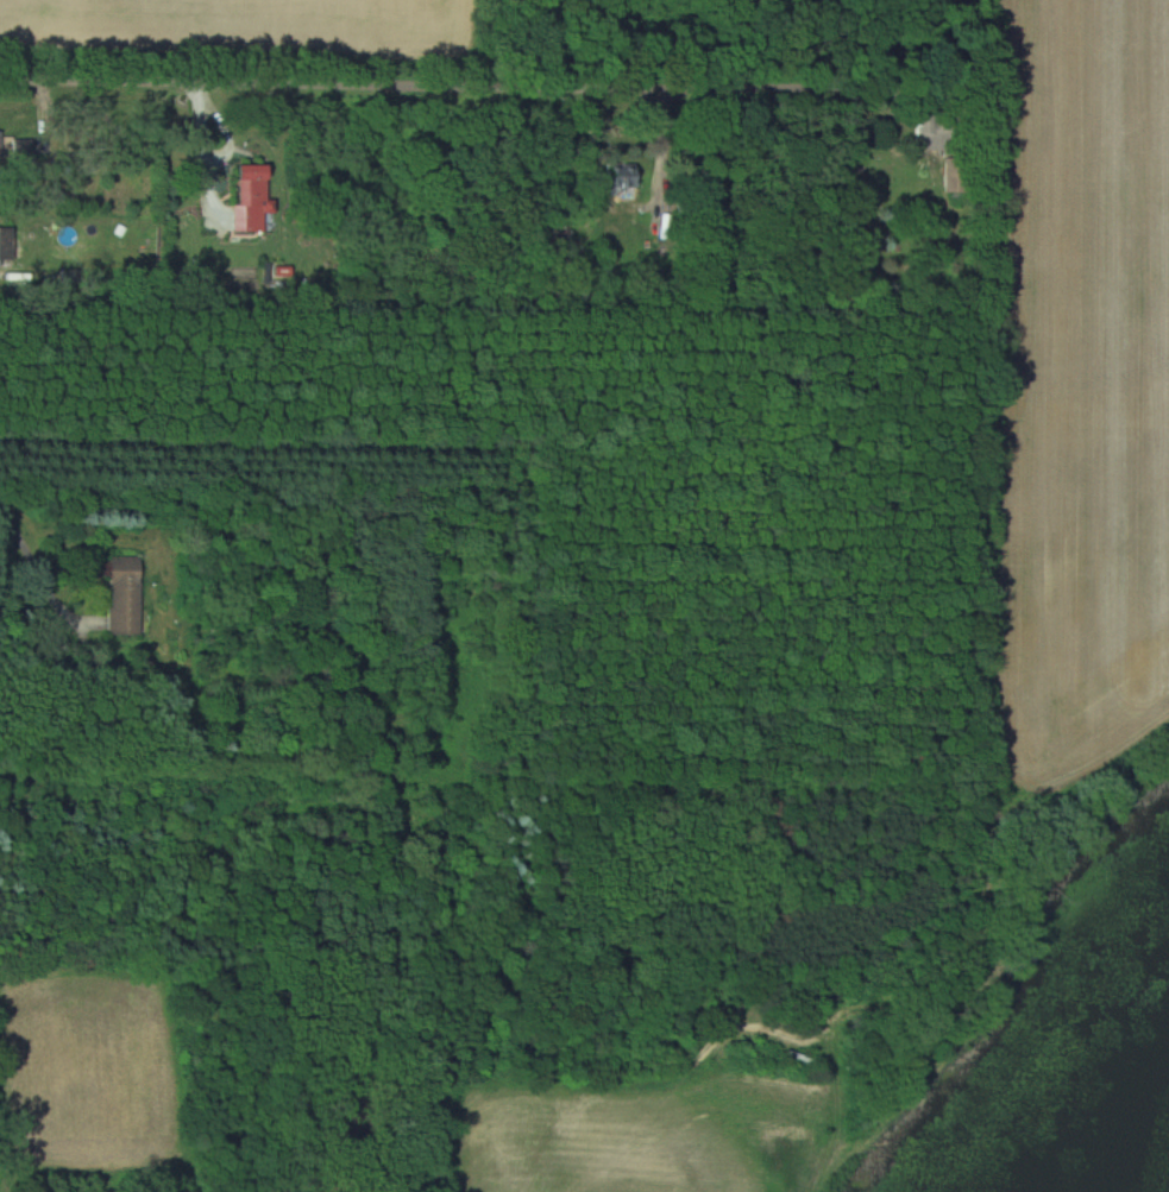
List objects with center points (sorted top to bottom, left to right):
road: (472, 87)
building: (935, 130)
building: (1, 145)
building: (622, 175)
building: (251, 197)
building: (6, 242)
road: (40, 580)
building: (125, 595)
building: (176, 718)
road: (453, 1085)

